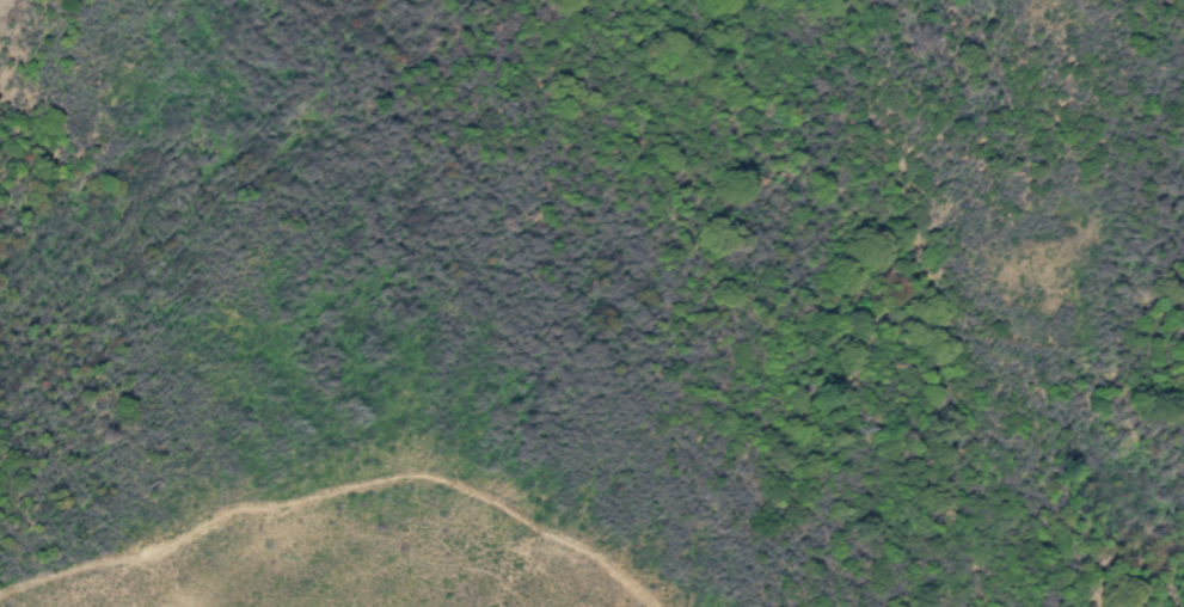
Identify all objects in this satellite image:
road: (319, 513)

